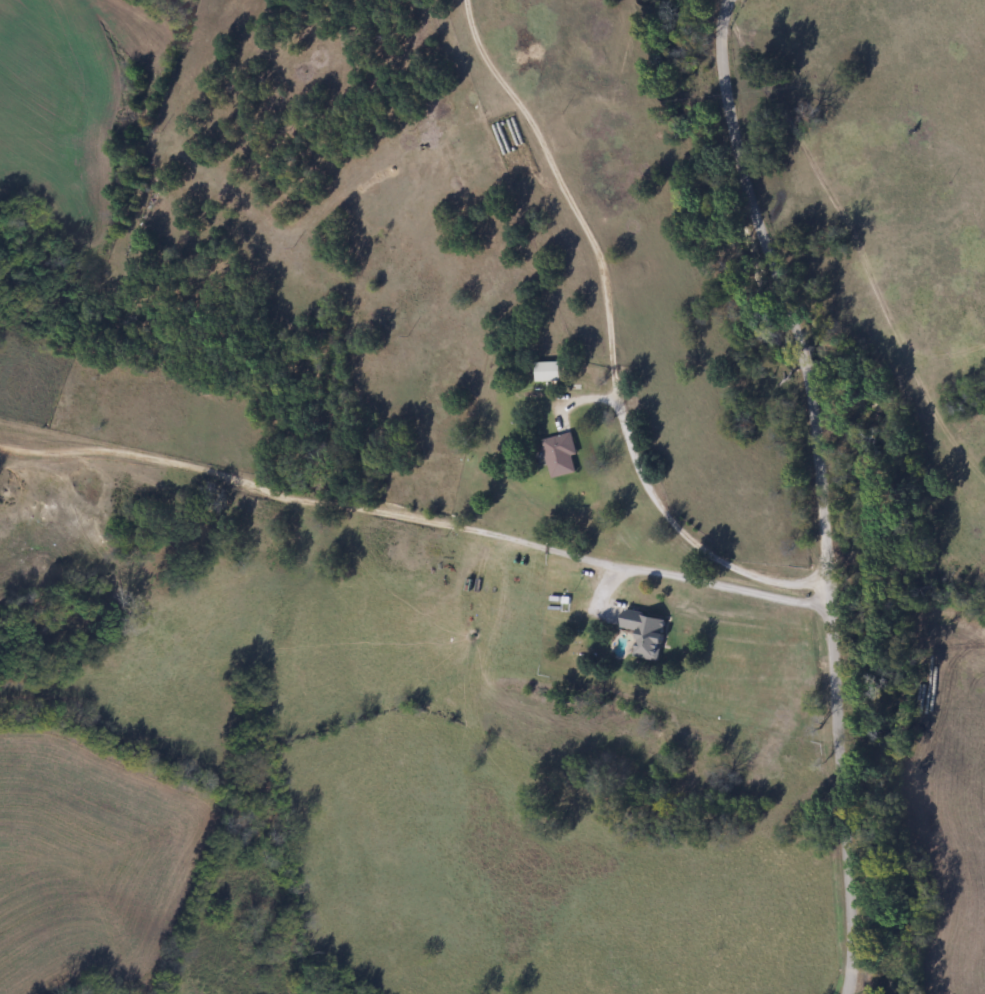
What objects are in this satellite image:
building: (548, 371)
building: (561, 455)
road: (817, 490)
road: (720, 585)
building: (647, 633)

